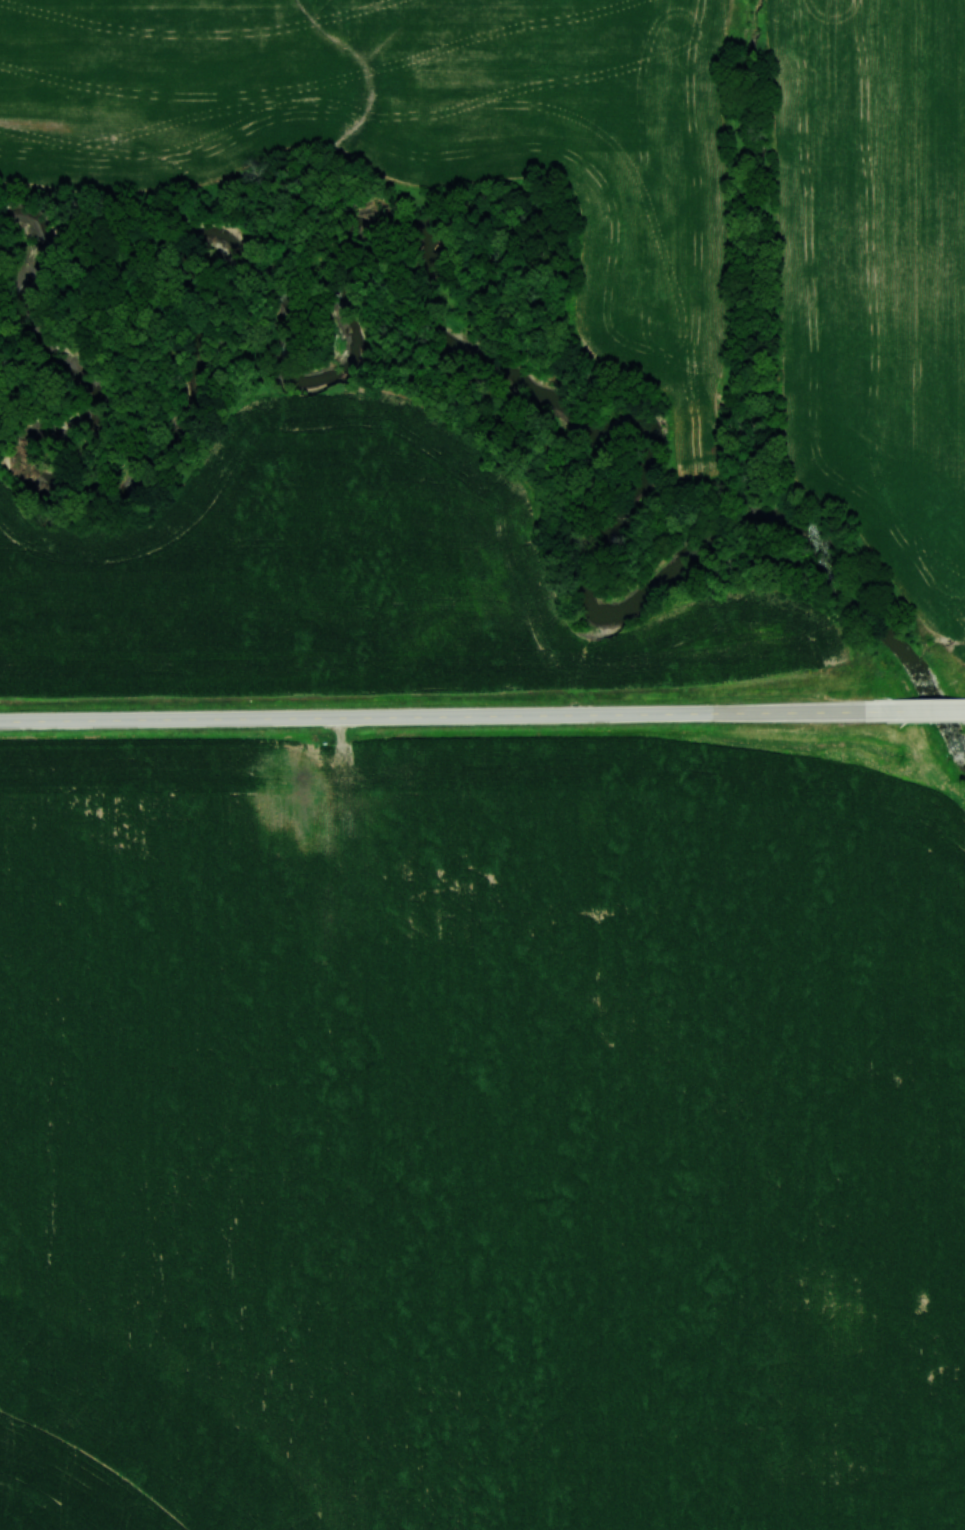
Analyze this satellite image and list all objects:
road: (915, 708)
road: (432, 714)

